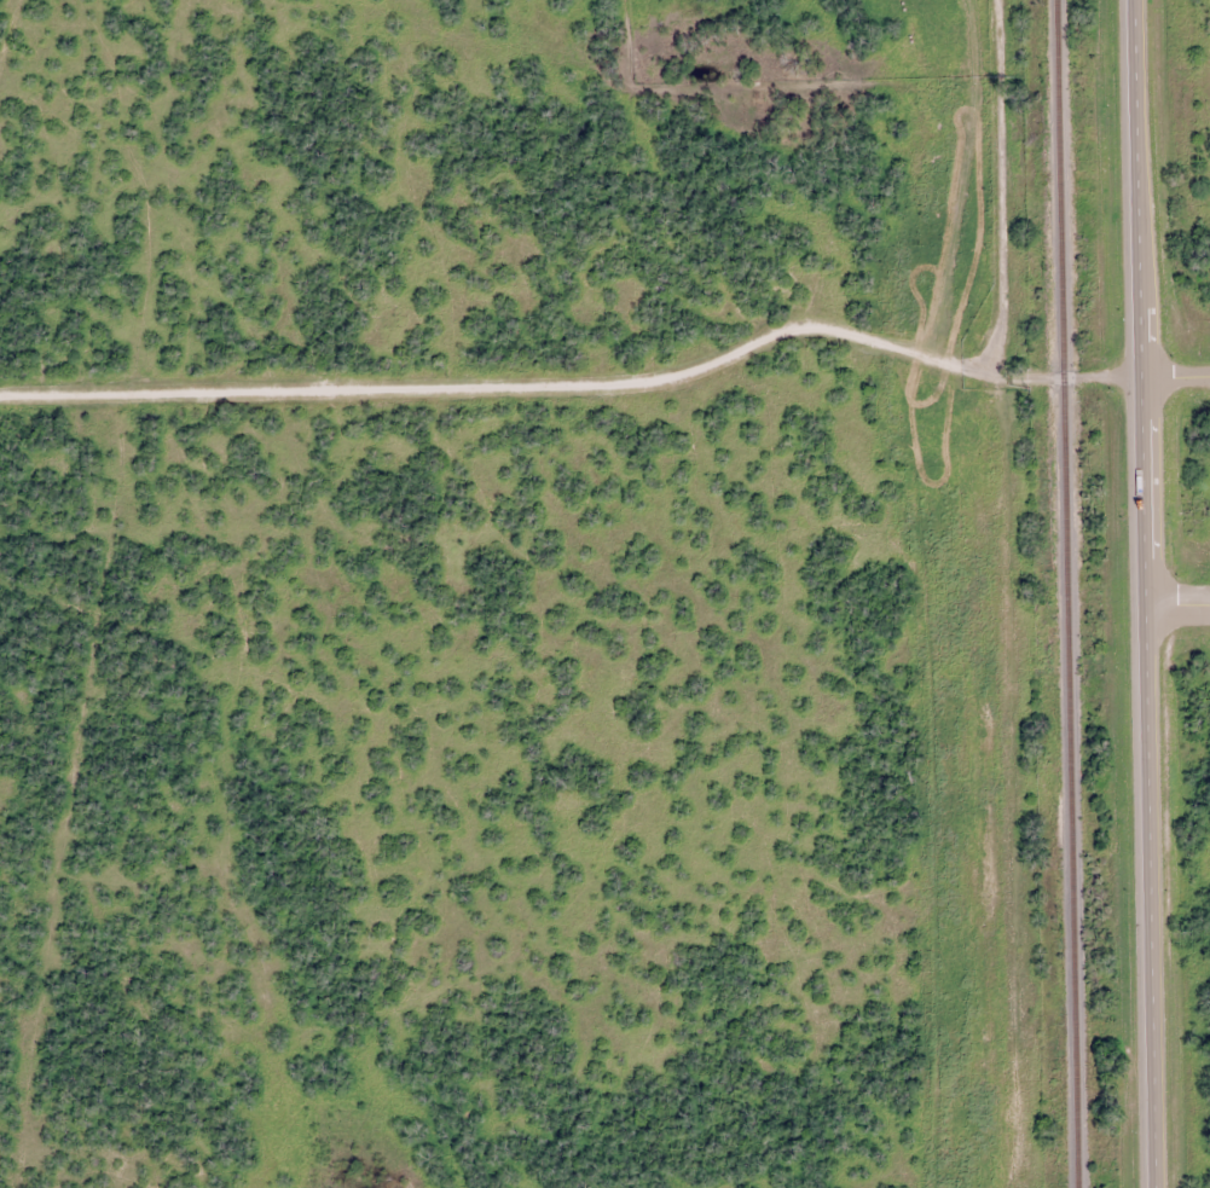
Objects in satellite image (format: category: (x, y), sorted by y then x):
road: (896, 352)
road: (1102, 377)
railway: (1066, 593)
road: (1145, 593)
road: (1177, 613)

